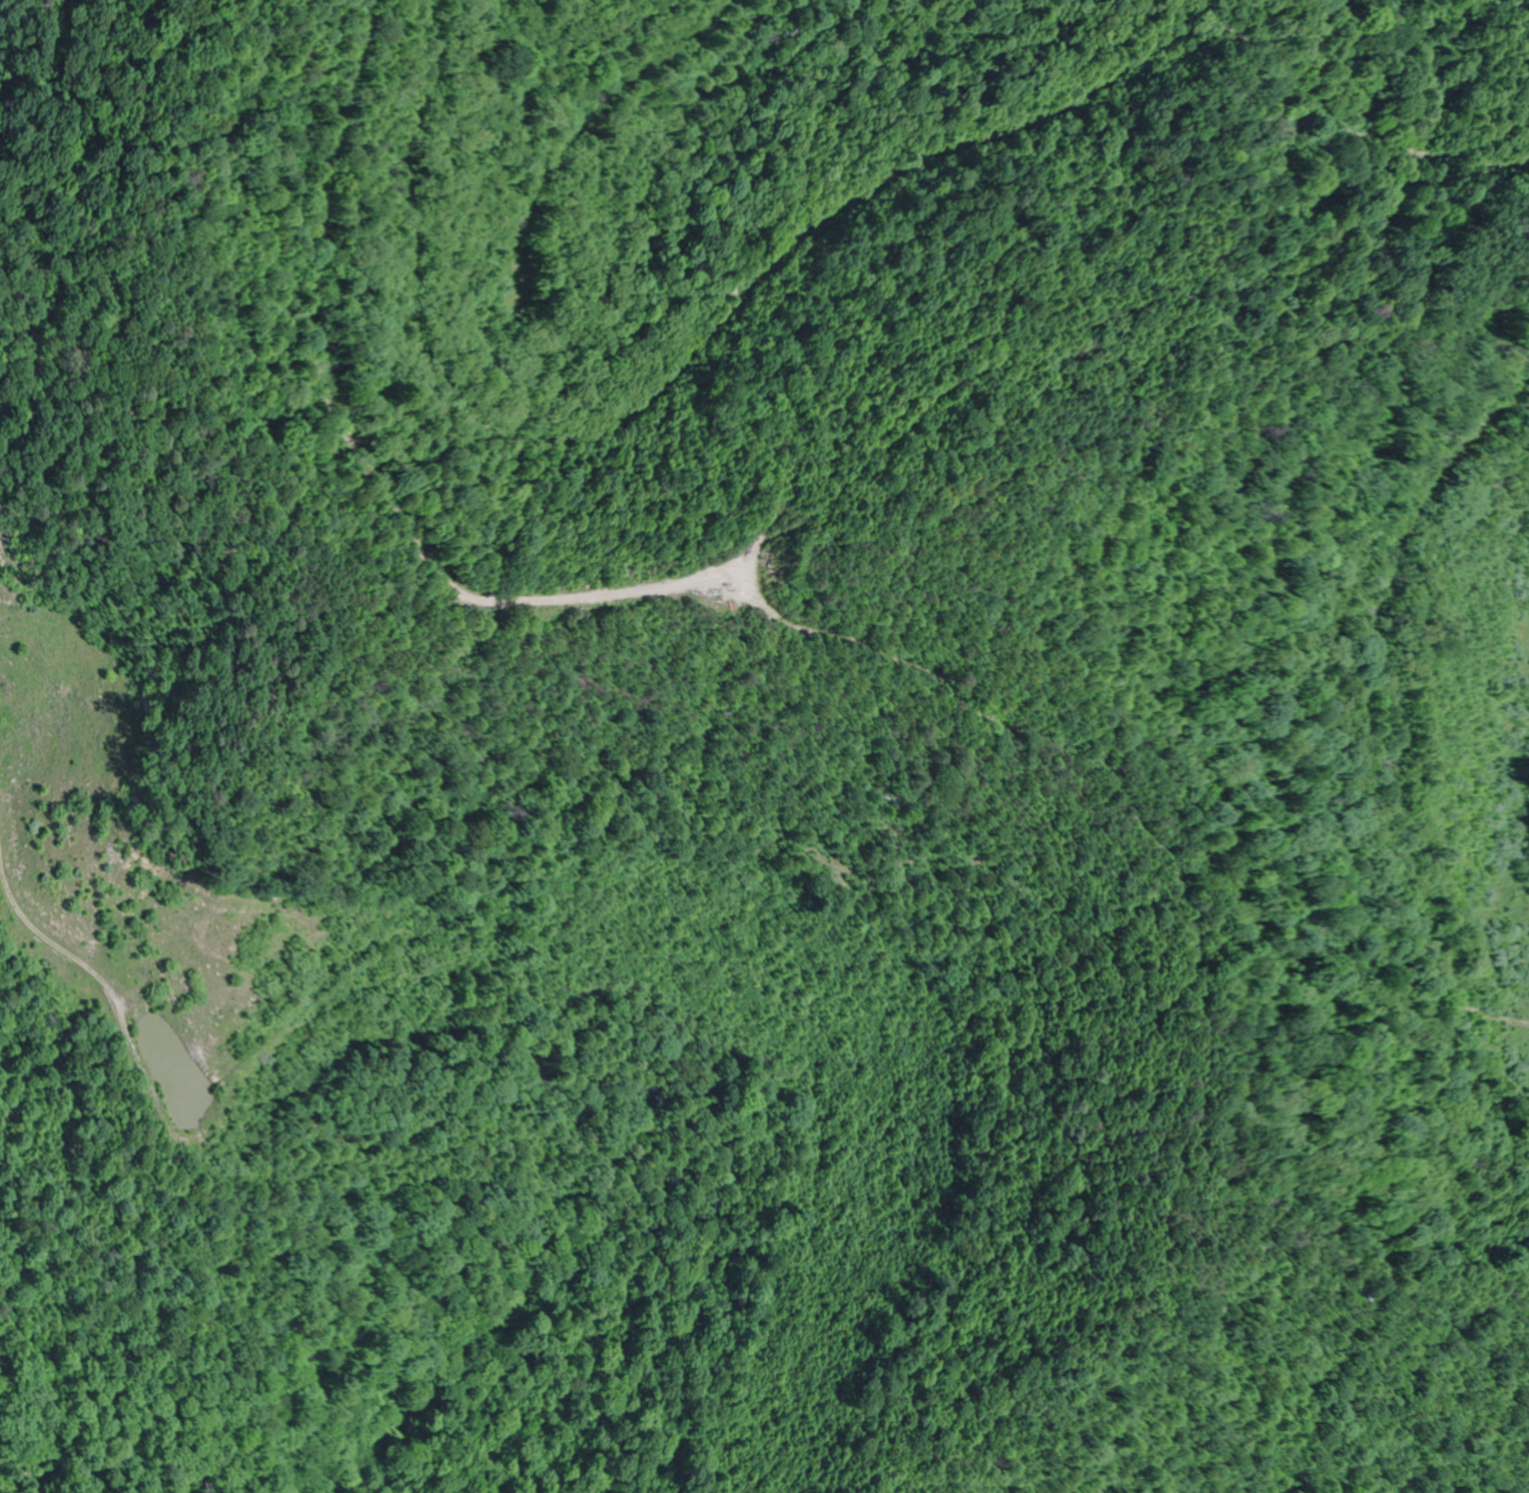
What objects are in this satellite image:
road: (71, 1379)

